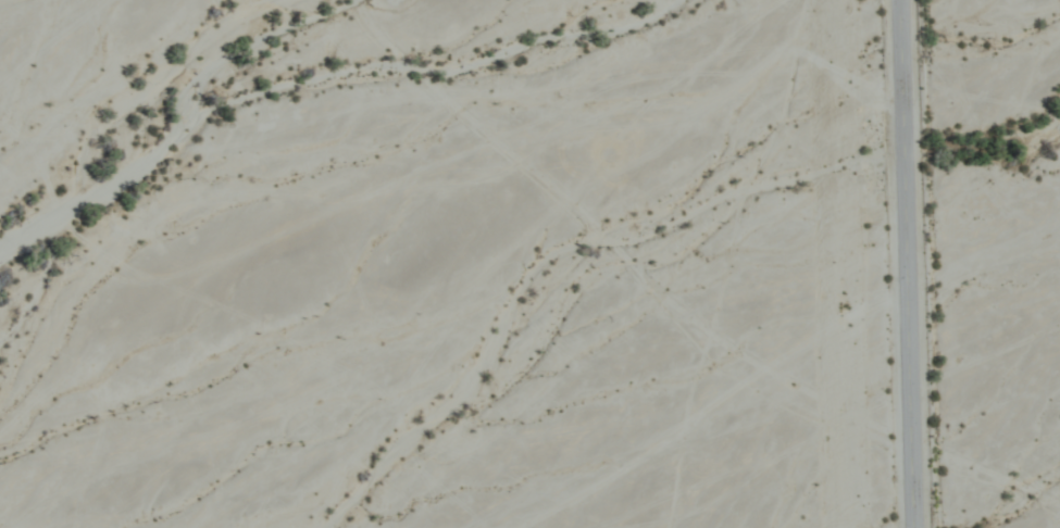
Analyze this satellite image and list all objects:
road: (907, 264)

